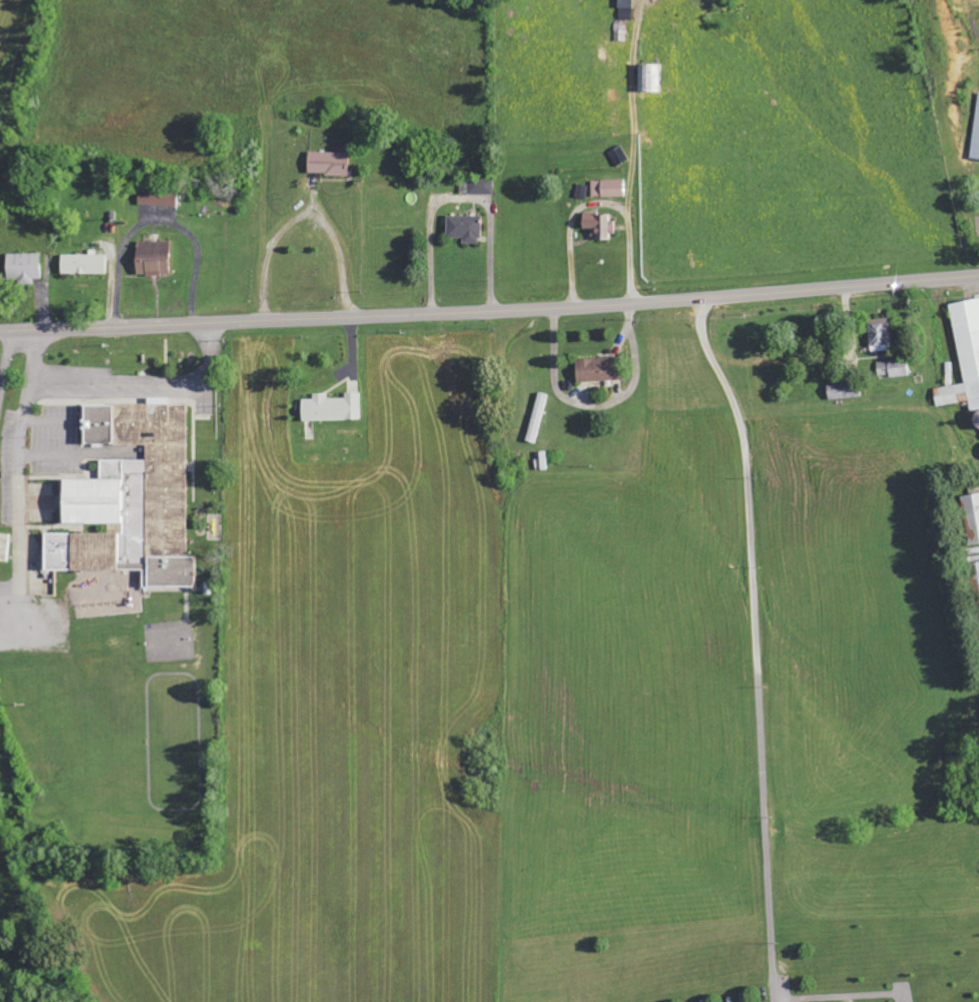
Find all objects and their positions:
building: (625, 9)
building: (648, 77)
building: (975, 135)
building: (328, 163)
building: (476, 186)
building: (608, 188)
building: (582, 191)
building: (157, 197)
building: (600, 225)
building: (464, 228)
building: (152, 258)
building: (83, 264)
building: (22, 267)
road: (489, 309)
building: (879, 335)
building: (964, 358)
building: (892, 368)
building: (598, 370)
building: (843, 390)
building: (331, 408)
building: (536, 417)
building: (130, 498)
building: (972, 516)
building: (4, 547)
building: (975, 571)

